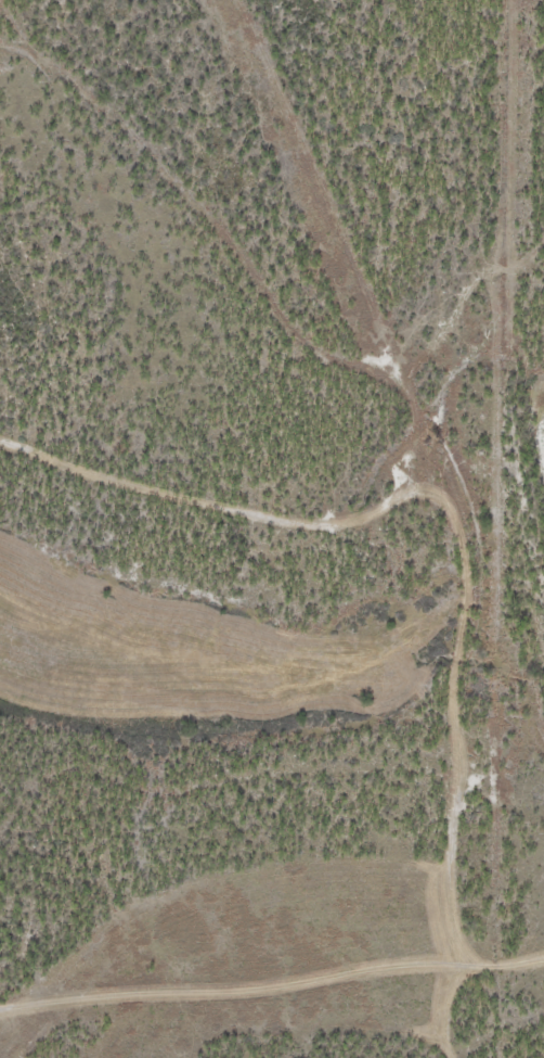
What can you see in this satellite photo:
road: (0, 2)

